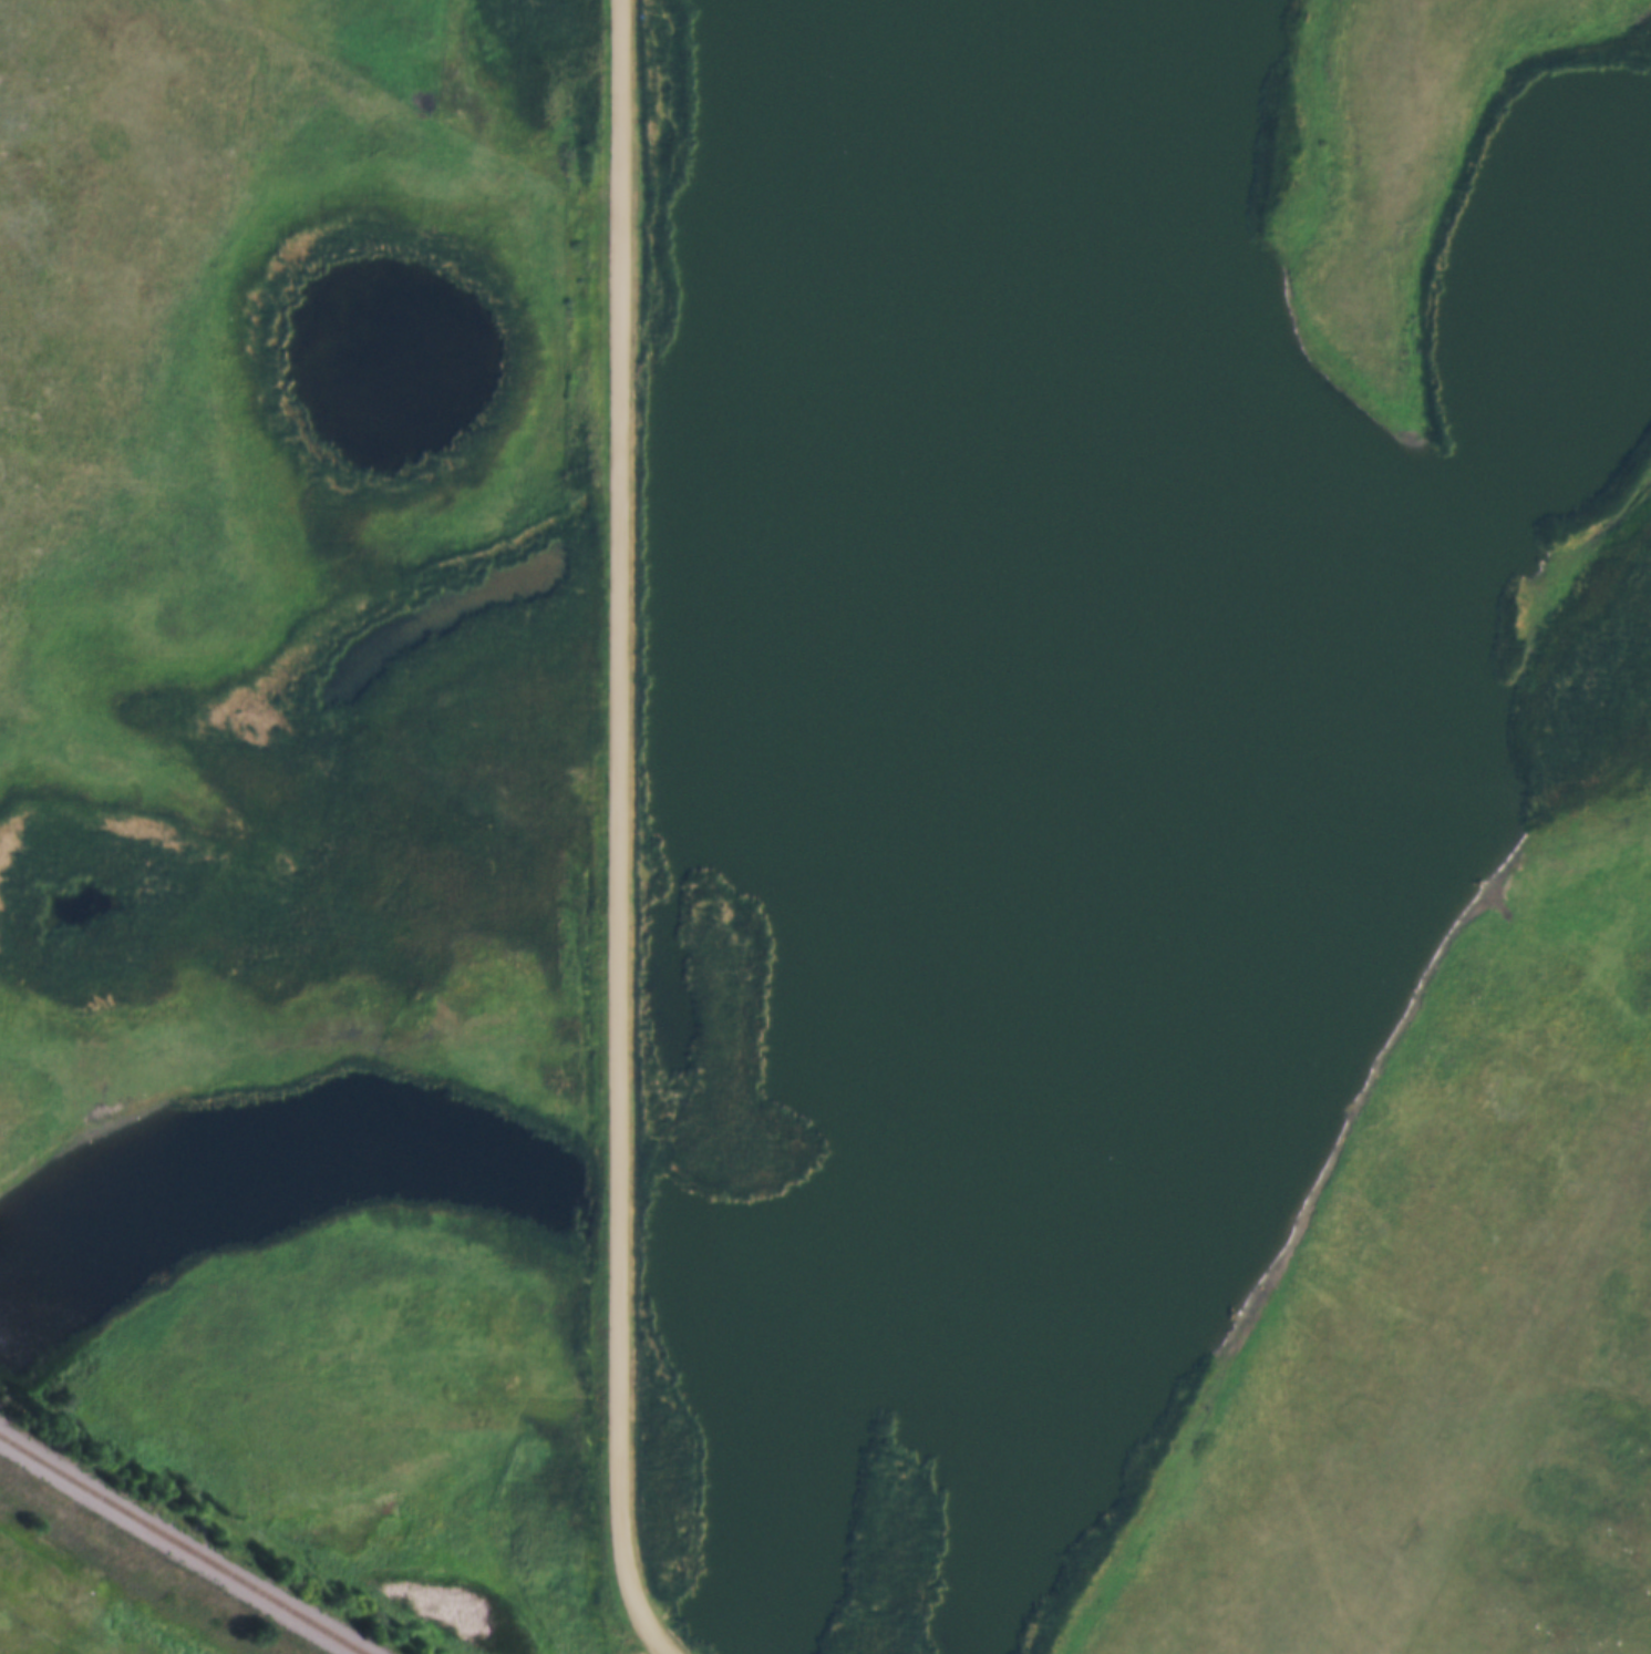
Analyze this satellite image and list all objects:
road: (623, 834)
railway: (166, 1552)

